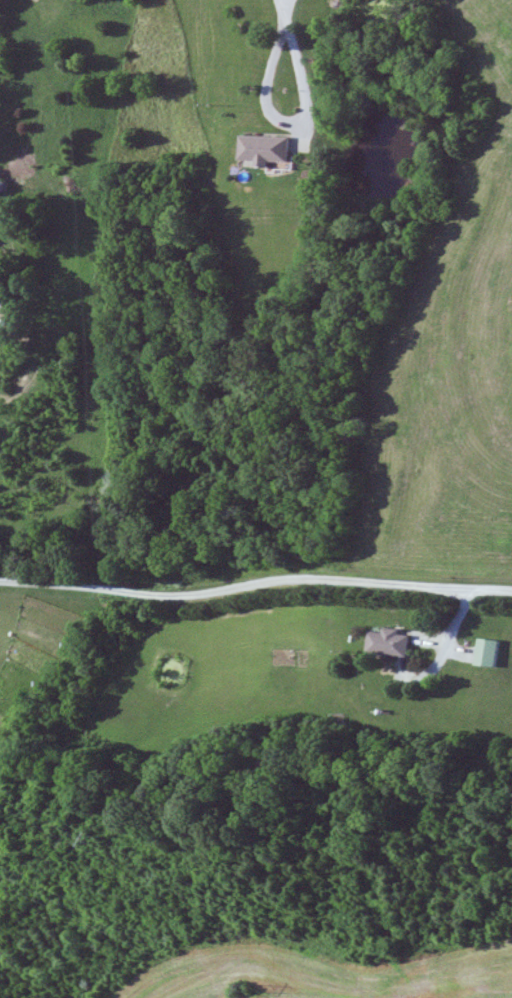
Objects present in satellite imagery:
road: (298, 67)
building: (271, 149)
building: (1, 178)
road: (255, 588)
building: (395, 642)
building: (491, 653)
power tower: (250, 987)

